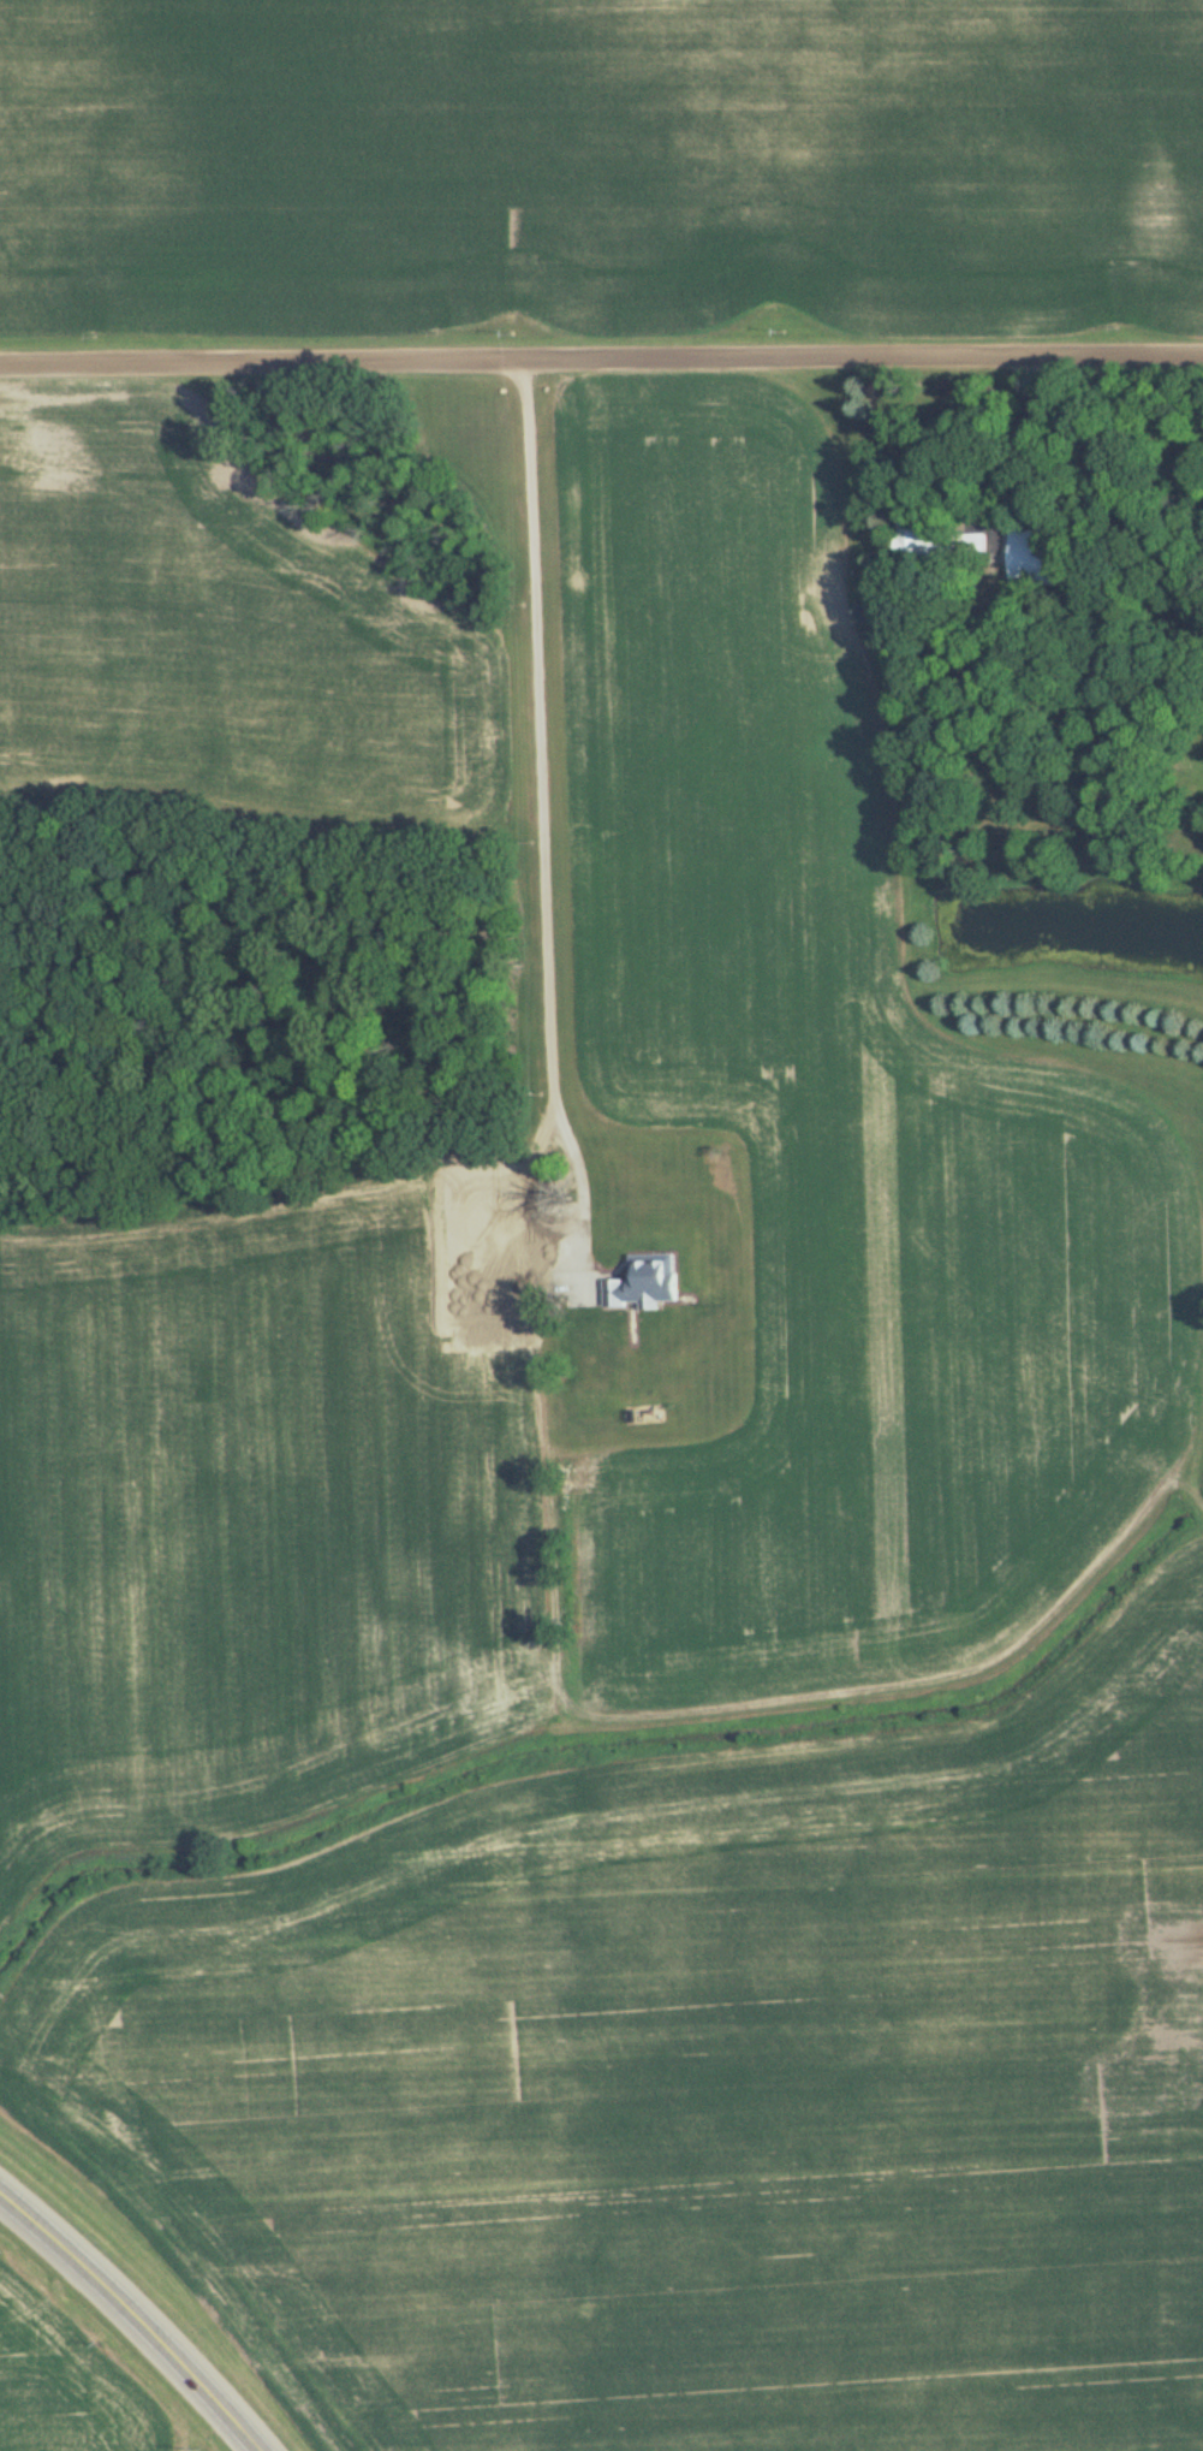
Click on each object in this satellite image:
road: (601, 376)
building: (917, 538)
building: (1026, 557)
road: (543, 918)
road: (135, 2313)

